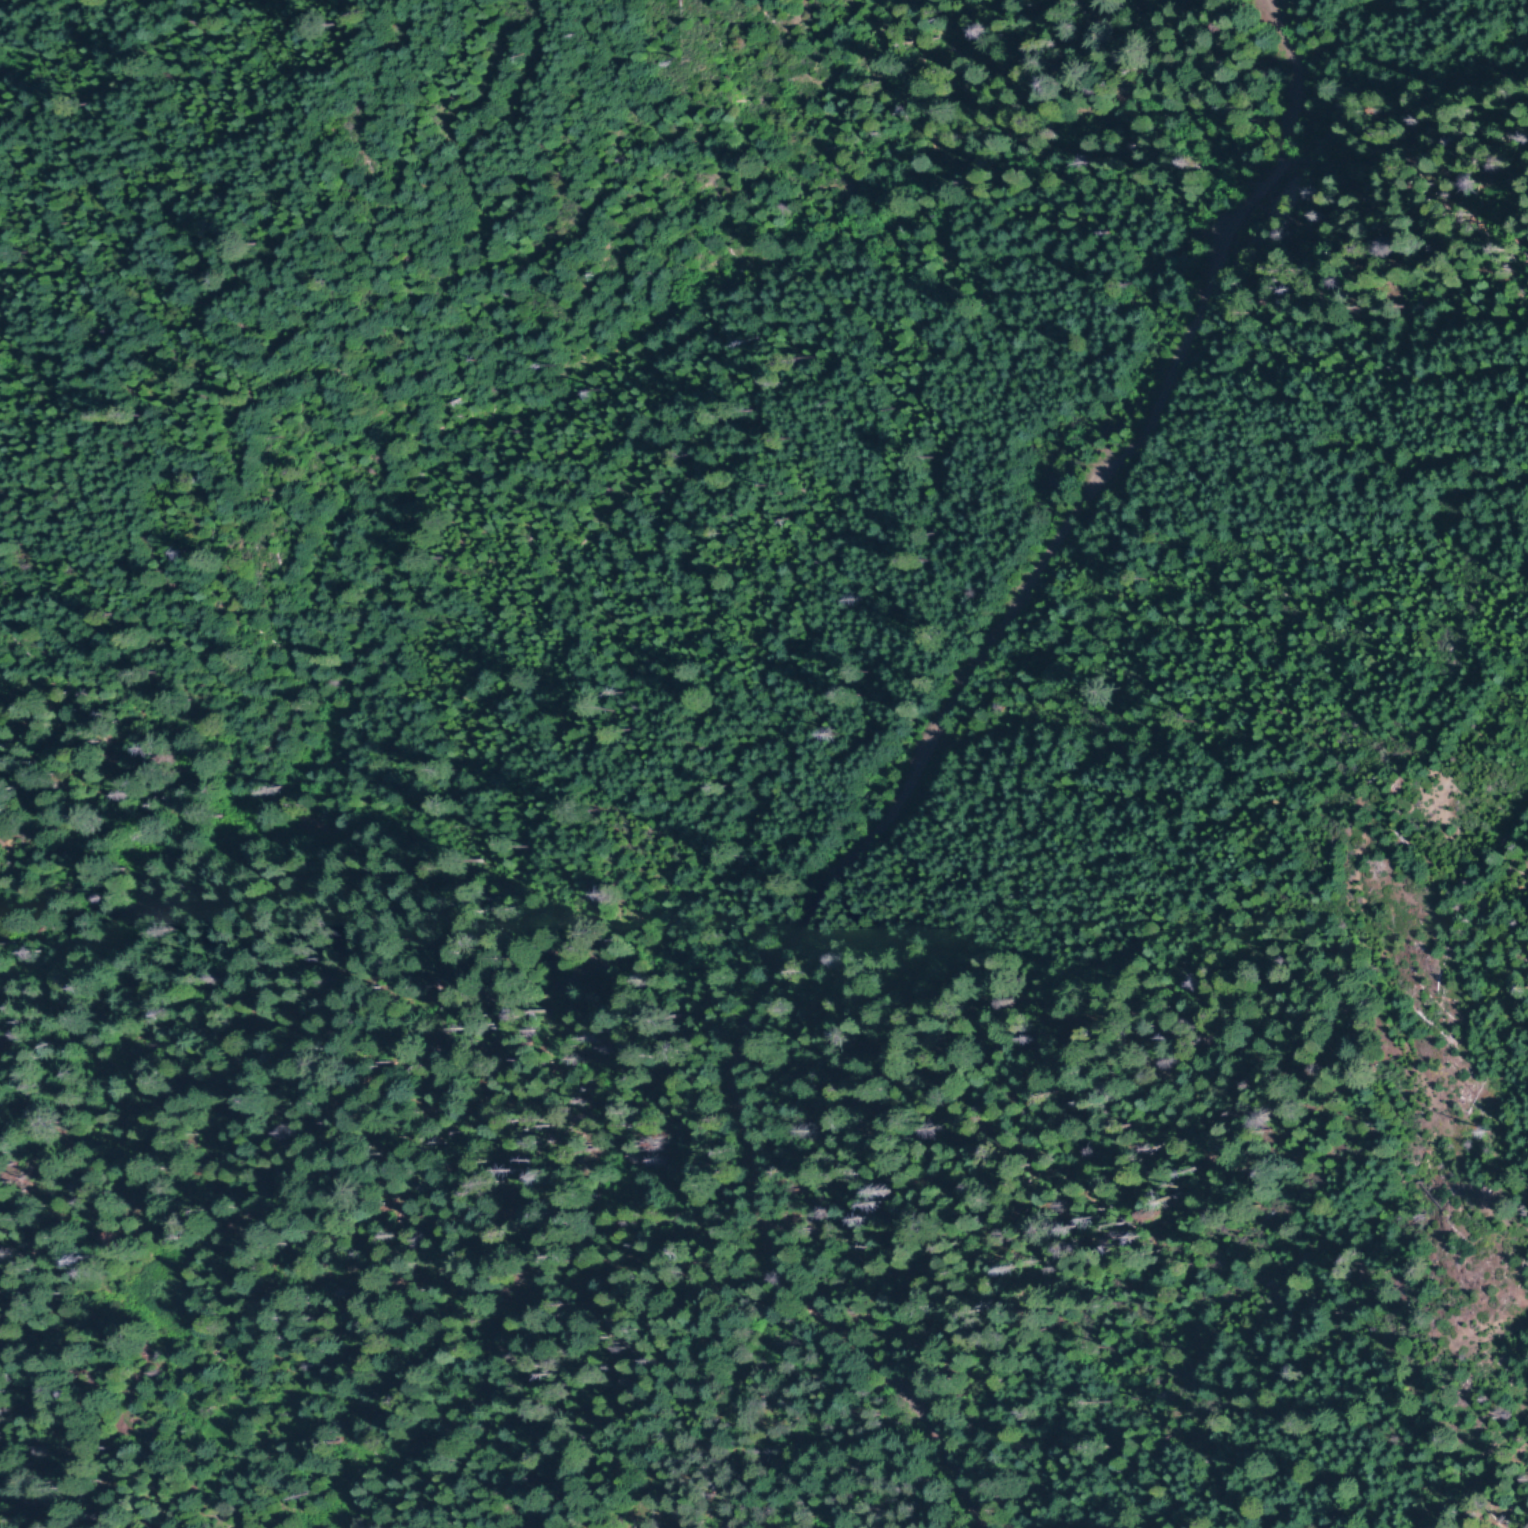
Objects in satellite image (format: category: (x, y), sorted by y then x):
road: (899, 772)

